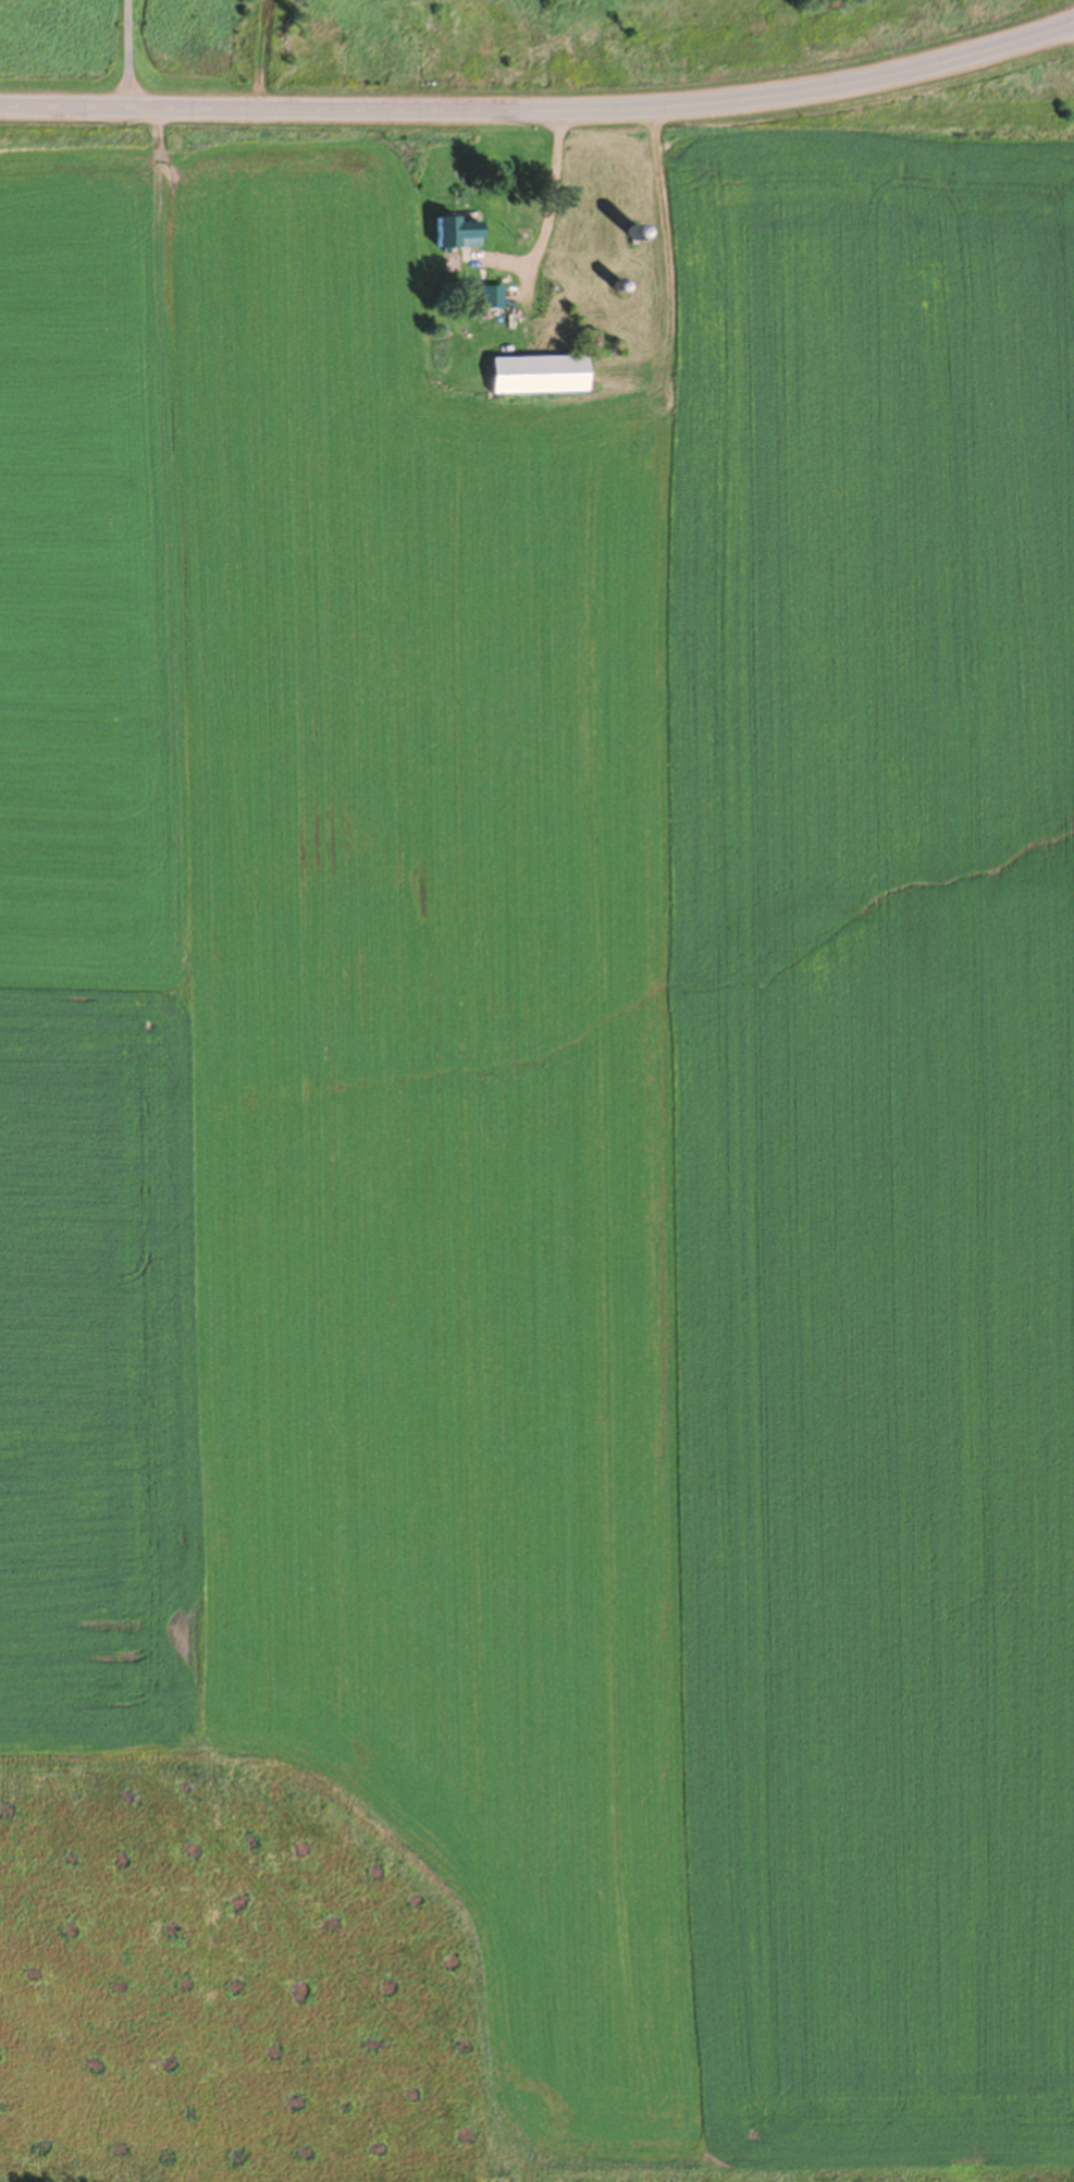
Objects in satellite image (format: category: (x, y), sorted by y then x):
road: (542, 110)
building: (456, 231)
building: (536, 372)

